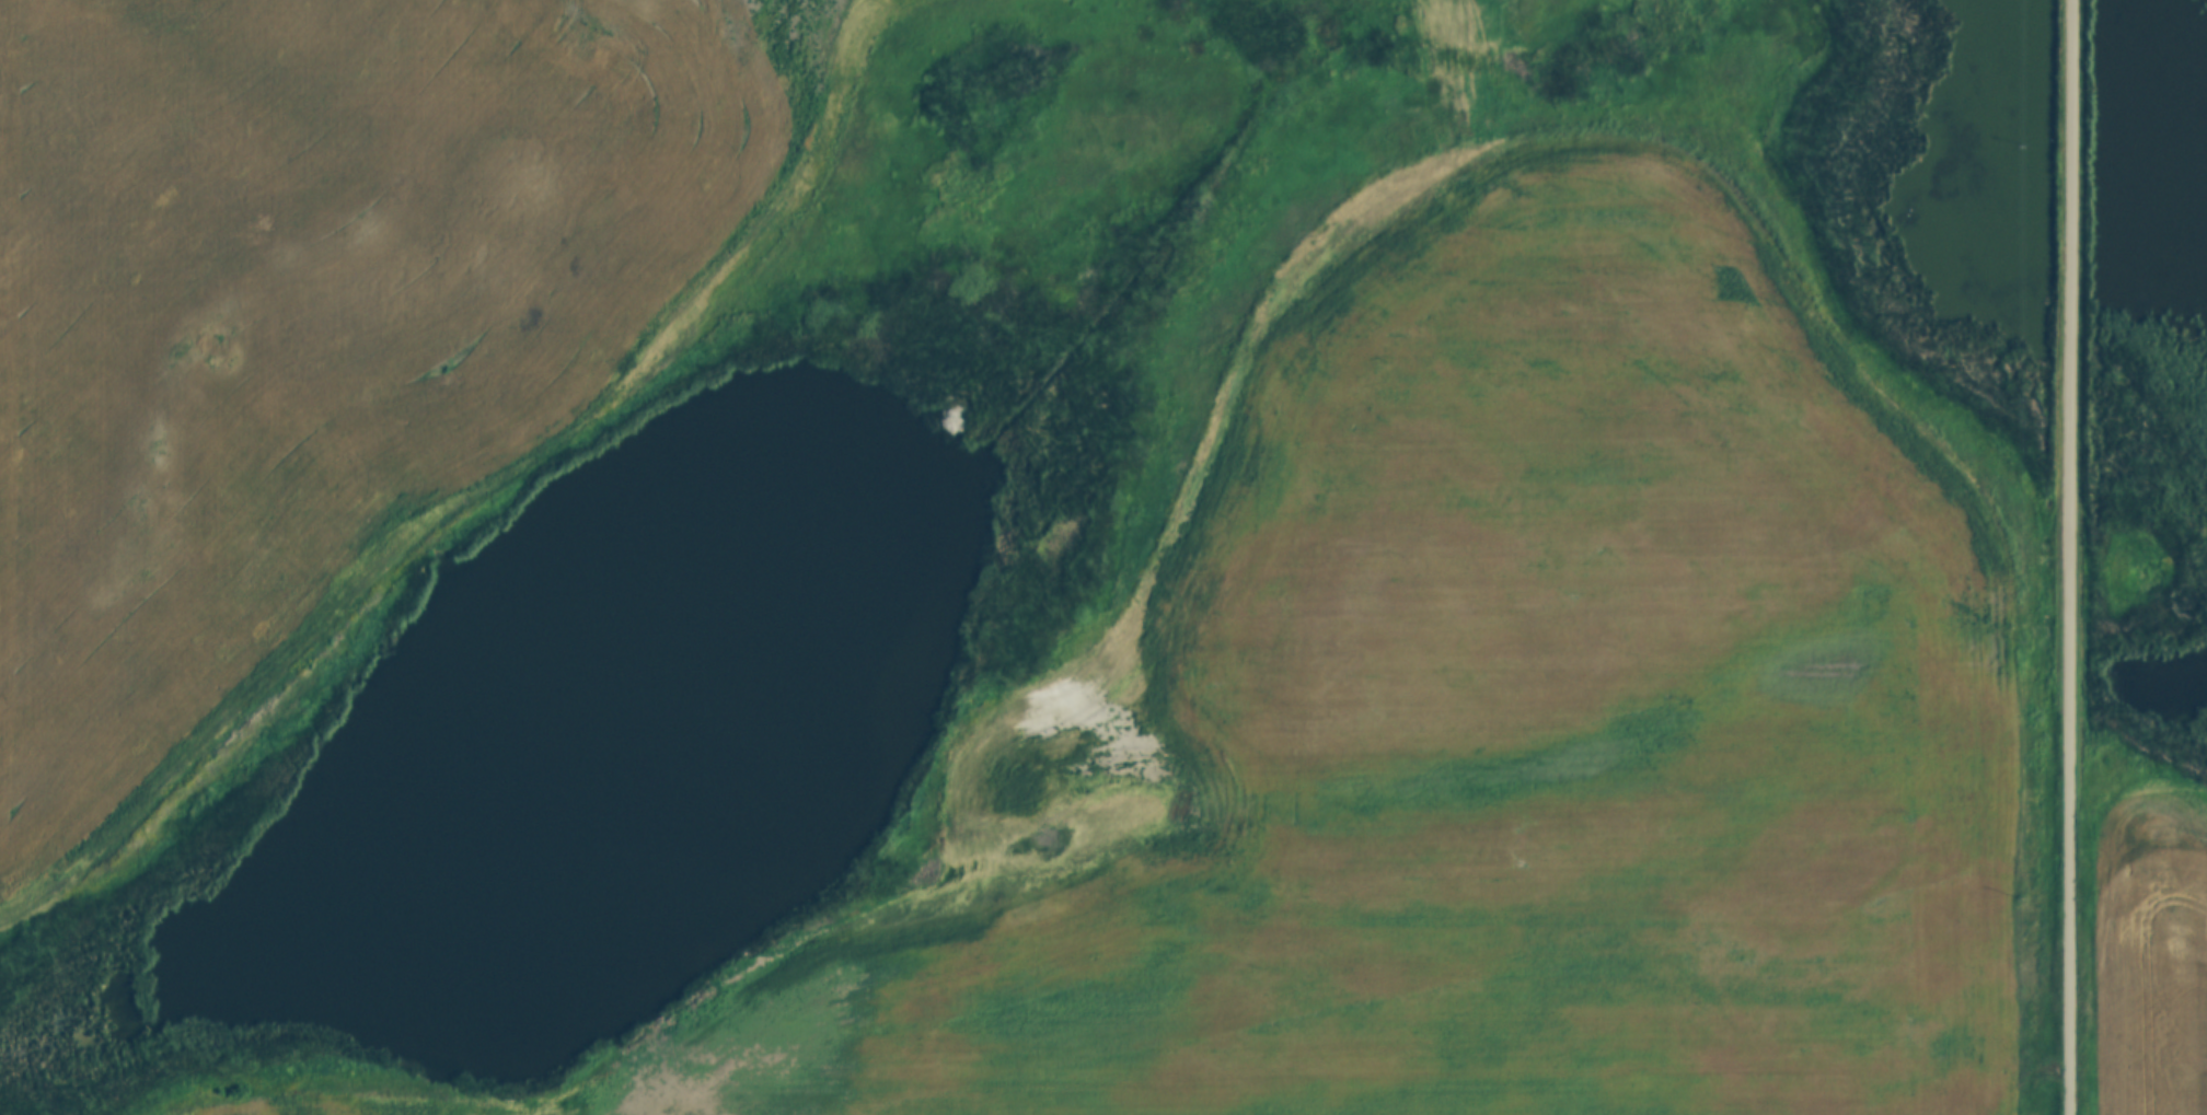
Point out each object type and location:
road: (2069, 557)

